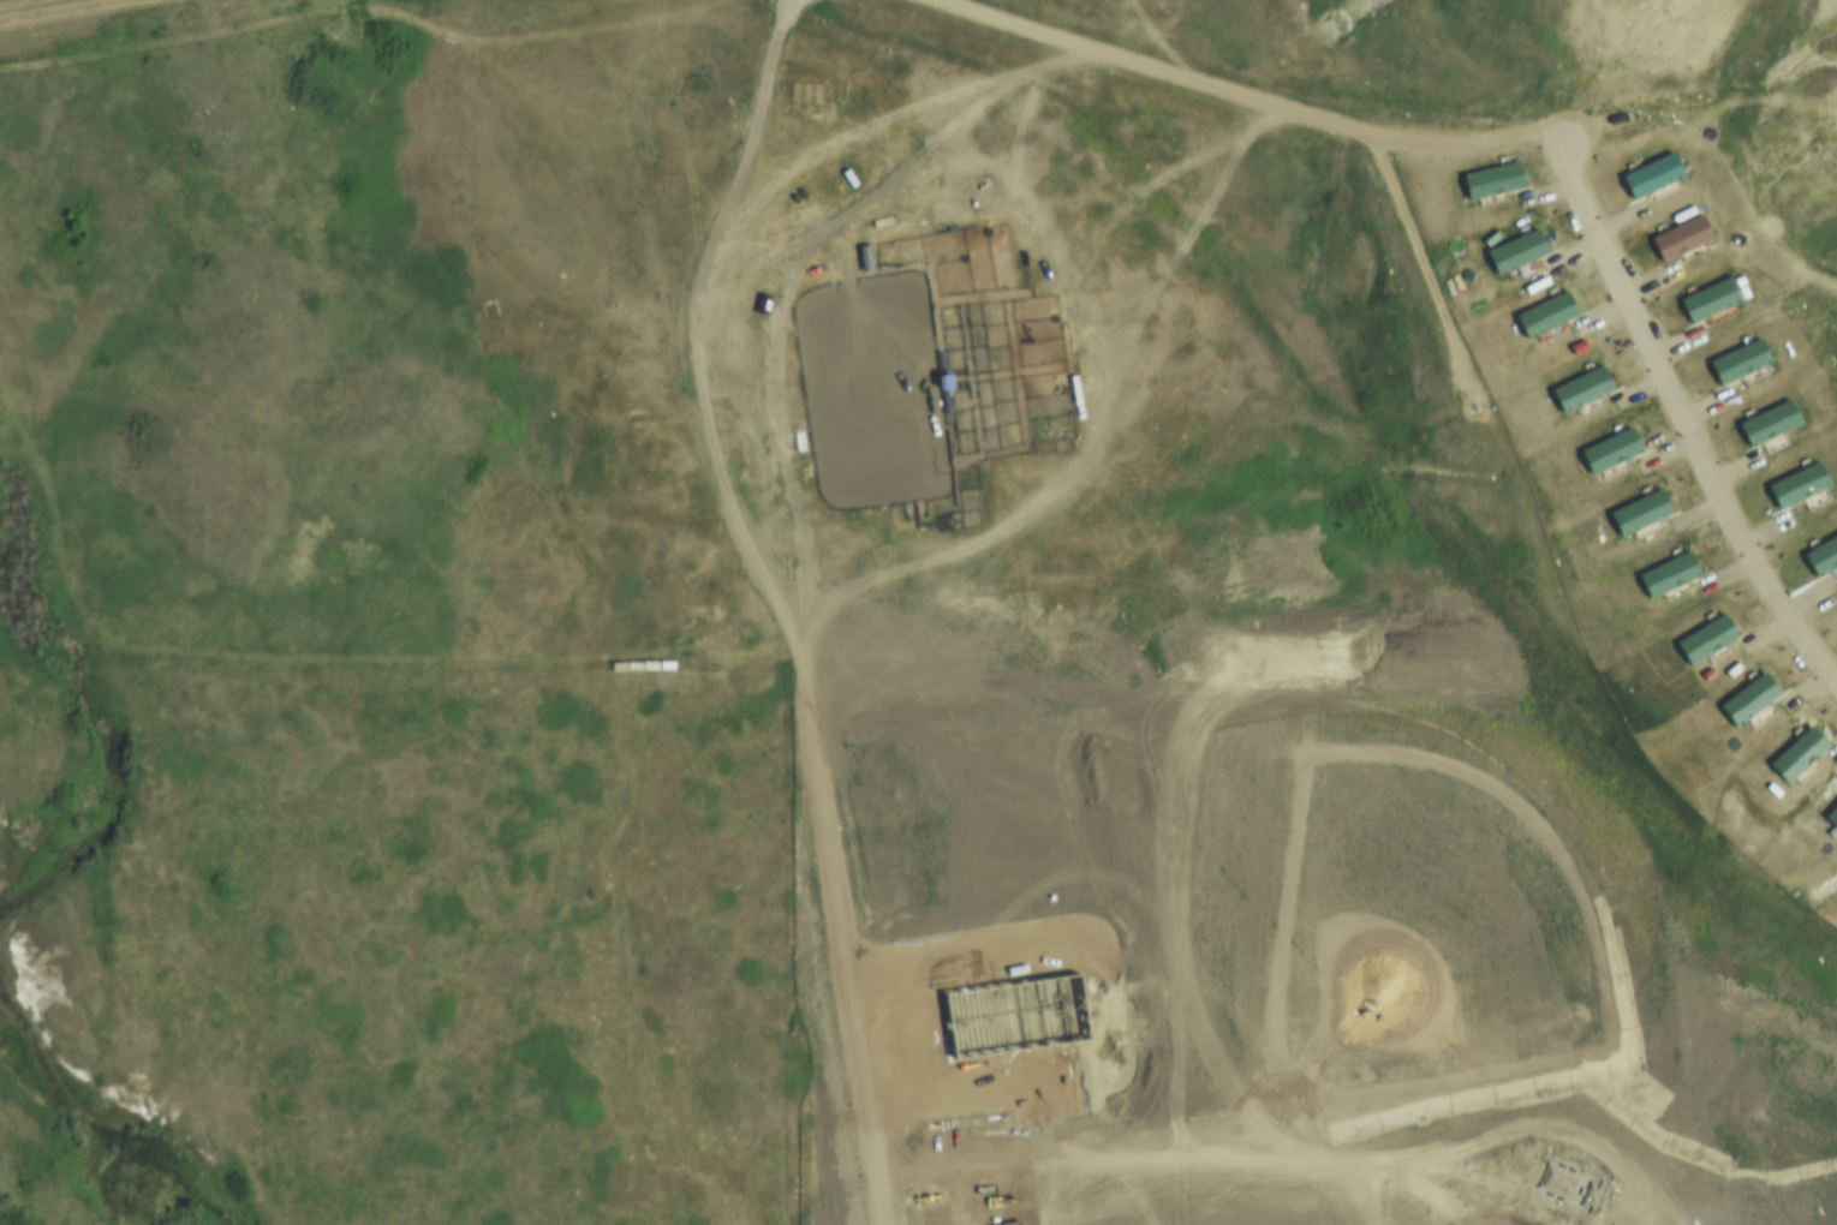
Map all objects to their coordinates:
building: (1648, 174)
building: (1487, 183)
building: (1677, 235)
building: (1513, 252)
building: (1706, 297)
building: (1543, 316)
building: (1736, 359)
building: (1579, 389)
road: (1678, 417)
building: (1766, 422)
building: (1608, 450)
building: (1796, 483)
building: (1638, 510)
building: (1821, 554)
building: (1666, 572)
building: (1704, 635)
building: (1746, 697)
building: (1796, 753)
building: (1831, 815)

